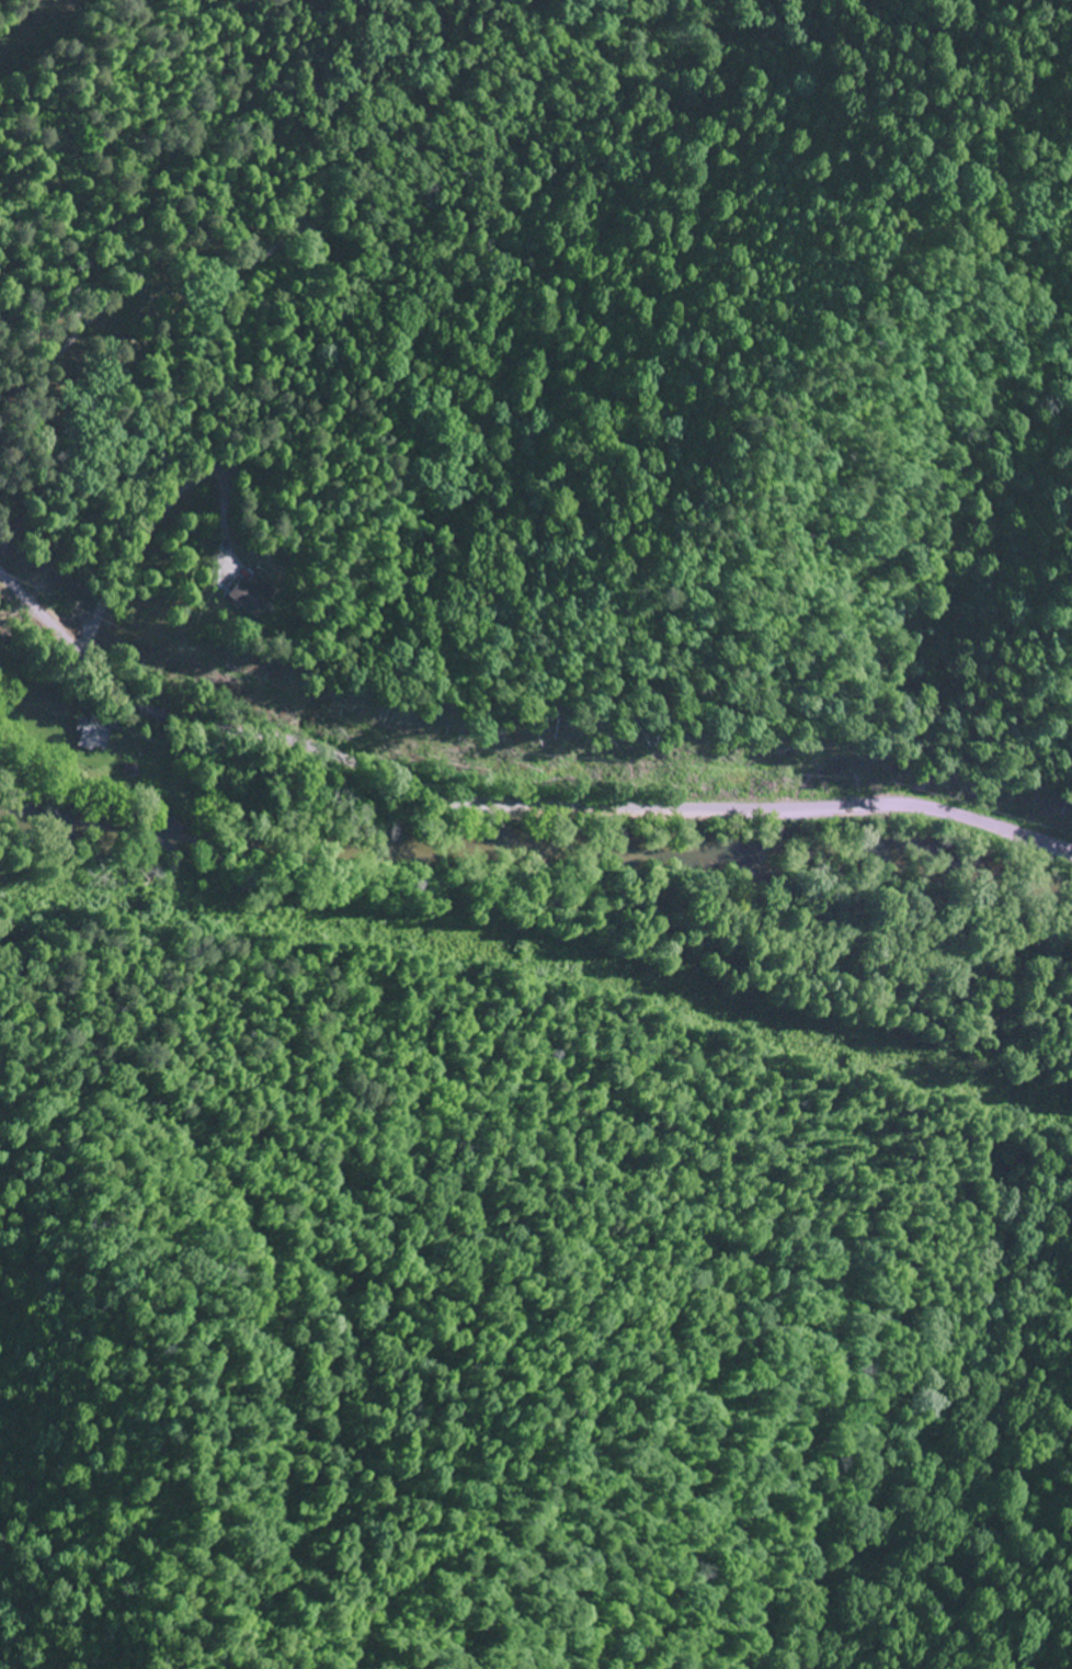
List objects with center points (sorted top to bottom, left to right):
road: (46, 316)
building: (249, 594)
building: (93, 735)
road: (504, 802)
river: (535, 847)

